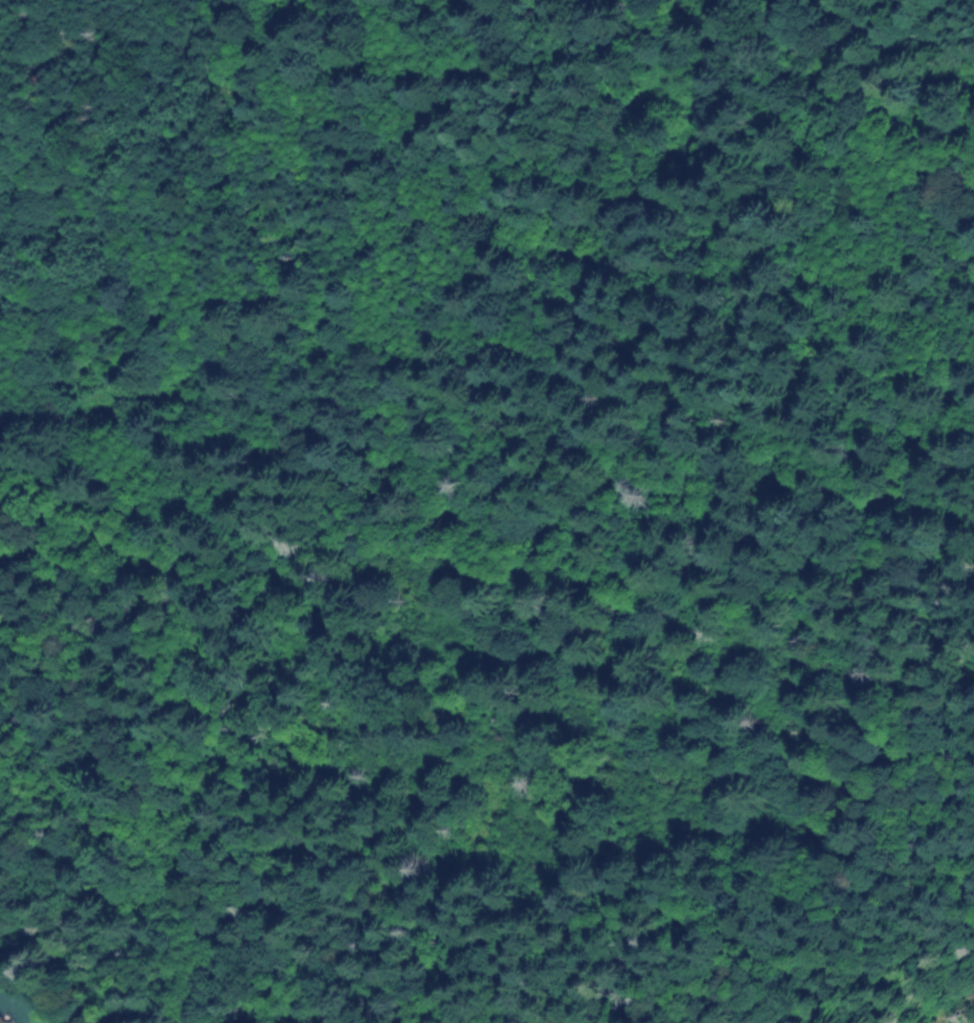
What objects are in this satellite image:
river: (10, 1012)

